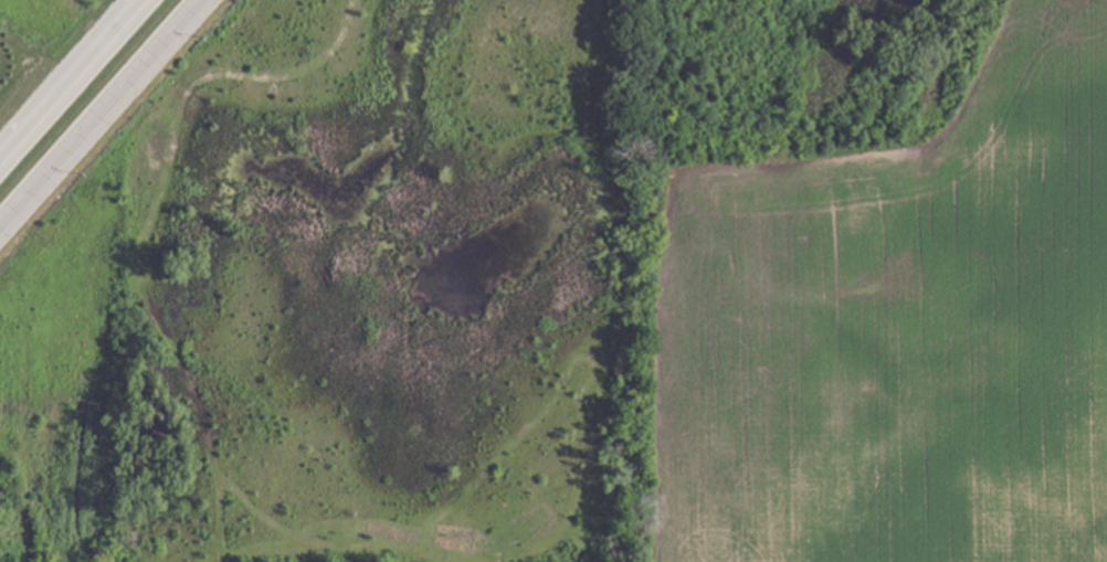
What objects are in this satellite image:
road: (73, 81)
road: (96, 109)
crop: (898, 329)

